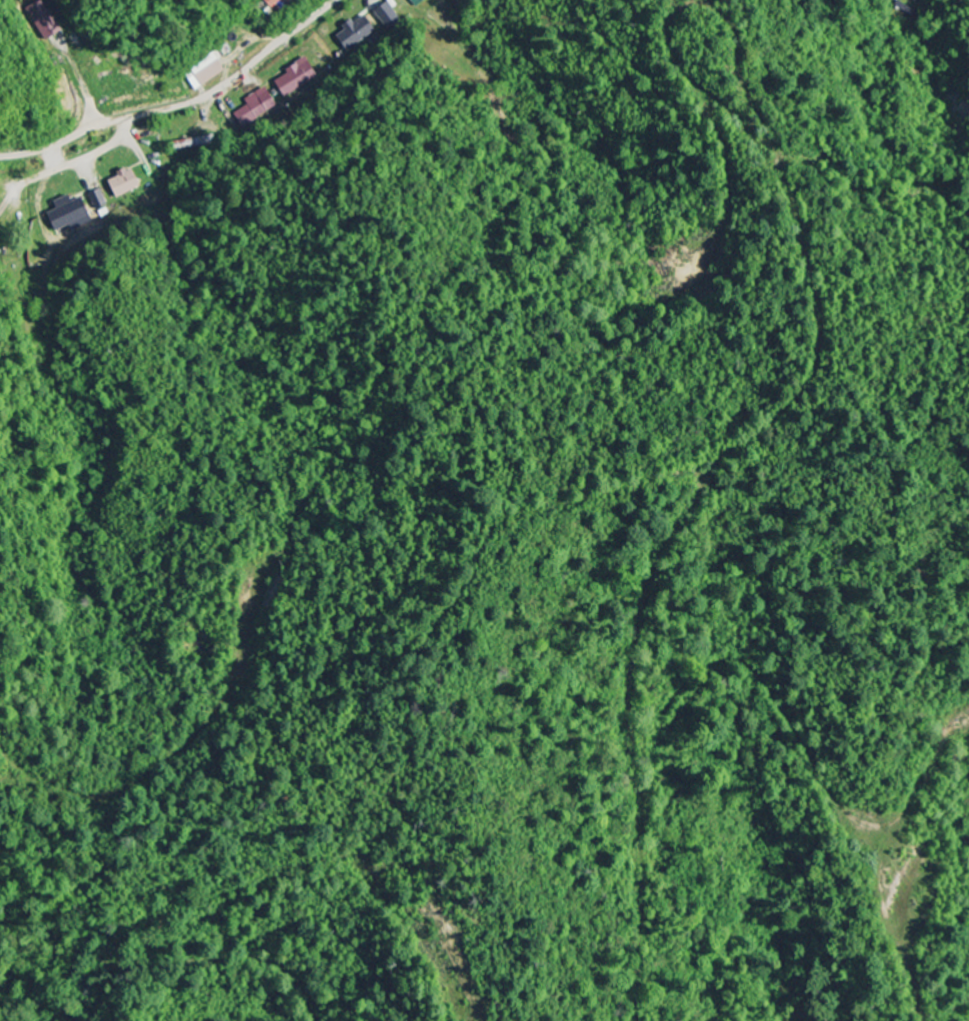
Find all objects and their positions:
building: (419, 2)
building: (389, 16)
building: (47, 21)
building: (357, 33)
building: (298, 78)
road: (181, 105)
building: (257, 107)
building: (127, 184)
building: (100, 201)
building: (72, 213)

